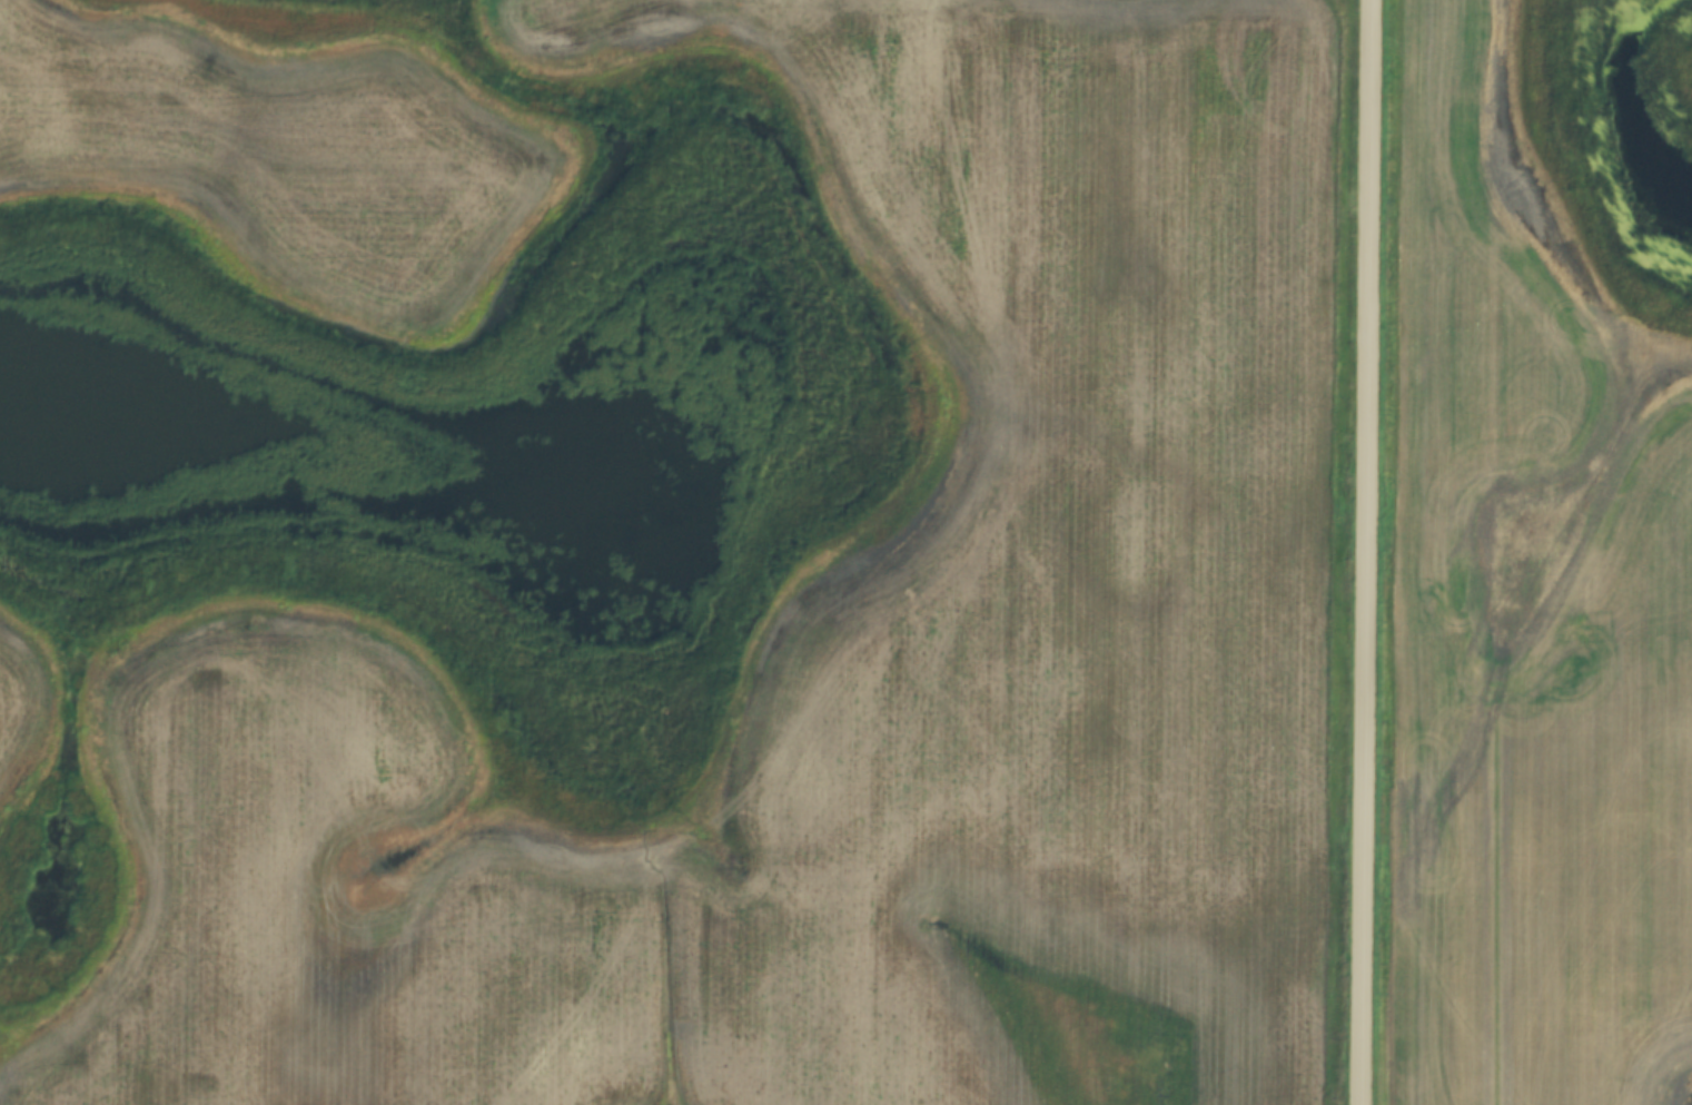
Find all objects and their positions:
road: (1376, 552)

